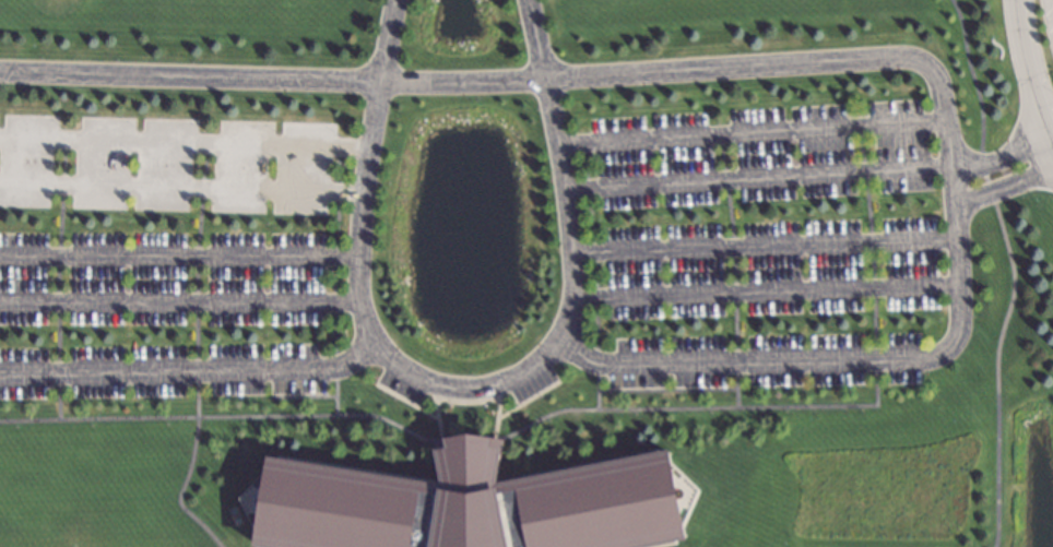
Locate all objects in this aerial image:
road: (1051, 7)
road: (966, 66)
road: (191, 75)
road: (463, 80)
road: (1027, 84)
road: (749, 131)
road: (186, 141)
road: (1048, 143)
road: (995, 159)
road: (560, 170)
road: (369, 173)
road: (755, 177)
road: (184, 188)
road: (1002, 194)
road: (950, 217)
road: (764, 248)
road: (180, 255)
road: (764, 289)
road: (180, 302)
road: (999, 337)
road: (190, 370)
road: (468, 389)
building: (470, 504)

